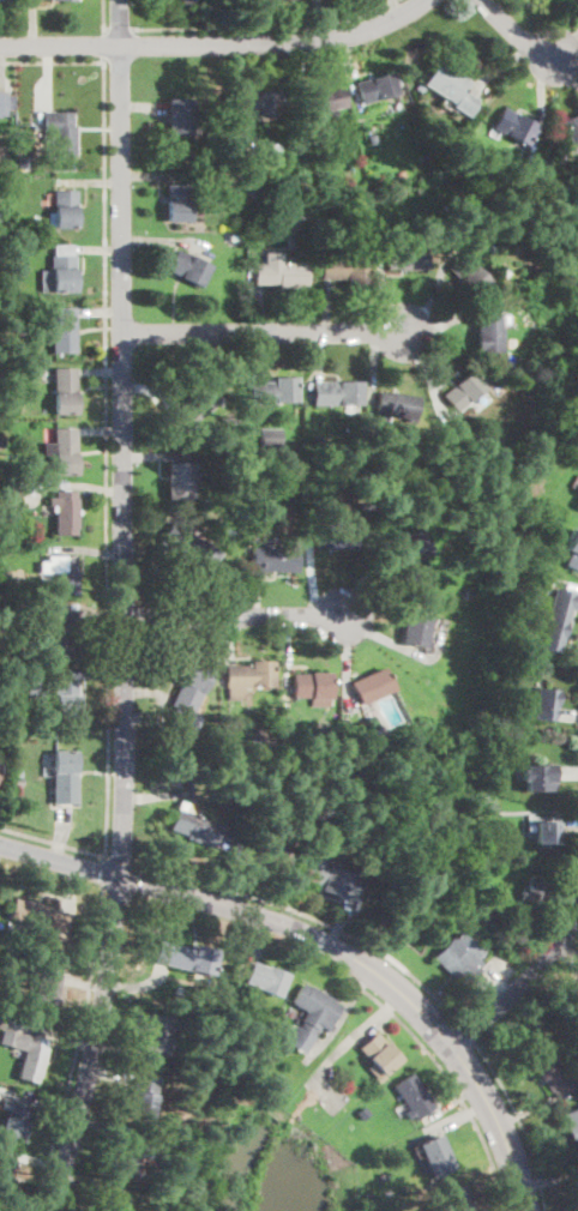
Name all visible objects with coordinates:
building: (182, 1)
road: (398, 7)
road: (103, 14)
road: (323, 20)
road: (34, 23)
road: (120, 23)
road: (254, 24)
road: (119, 28)
road: (266, 29)
road: (516, 32)
road: (566, 44)
road: (104, 46)
road: (217, 46)
road: (349, 59)
road: (52, 61)
road: (504, 64)
road: (236, 66)
road: (300, 66)
road: (566, 67)
road: (8, 68)
road: (48, 77)
building: (375, 88)
building: (452, 88)
road: (541, 94)
building: (321, 100)
building: (259, 102)
building: (5, 103)
building: (397, 103)
road: (142, 107)
building: (332, 114)
building: (179, 118)
building: (514, 125)
building: (570, 127)
building: (60, 131)
building: (372, 138)
building: (284, 149)
building: (24, 162)
road: (151, 174)
road: (91, 182)
building: (255, 191)
building: (175, 200)
building: (218, 200)
building: (62, 209)
building: (0, 215)
building: (295, 230)
road: (164, 241)
road: (98, 249)
building: (403, 258)
building: (1, 259)
building: (187, 267)
building: (344, 269)
building: (60, 271)
building: (505, 271)
building: (279, 273)
building: (468, 273)
road: (386, 297)
road: (254, 299)
road: (429, 303)
road: (329, 307)
road: (101, 312)
road: (450, 320)
building: (64, 330)
building: (486, 331)
road: (263, 332)
road: (253, 355)
road: (213, 359)
road: (315, 363)
road: (421, 366)
road: (373, 369)
road: (100, 372)
building: (464, 391)
building: (64, 392)
building: (271, 392)
building: (335, 392)
building: (7, 403)
building: (197, 404)
building: (396, 404)
building: (229, 428)
road: (102, 430)
building: (270, 438)
building: (315, 440)
building: (4, 446)
building: (64, 448)
building: (295, 451)
road: (159, 454)
building: (475, 454)
road: (107, 458)
building: (25, 472)
building: (309, 475)
building: (179, 481)
road: (71, 484)
building: (405, 493)
building: (7, 498)
building: (65, 512)
building: (6, 514)
road: (161, 518)
building: (331, 528)
building: (187, 546)
road: (88, 549)
building: (572, 549)
building: (272, 559)
building: (407, 562)
building: (62, 572)
road: (312, 573)
building: (2, 576)
road: (362, 579)
building: (476, 589)
building: (531, 590)
road: (255, 596)
road: (90, 607)
building: (554, 615)
road: (231, 616)
building: (415, 627)
road: (124, 632)
road: (379, 635)
building: (60, 638)
road: (224, 650)
road: (285, 653)
road: (348, 659)
building: (249, 675)
road: (90, 676)
building: (311, 686)
building: (371, 686)
building: (58, 695)
building: (188, 699)
building: (542, 700)
road: (567, 713)
road: (165, 715)
building: (1, 724)
building: (255, 735)
building: (315, 735)
road: (567, 772)
building: (0, 773)
building: (537, 776)
building: (64, 777)
building: (18, 779)
road: (155, 796)
building: (489, 806)
building: (251, 809)
building: (186, 824)
road: (571, 824)
road: (61, 832)
building: (547, 832)
road: (50, 841)
building: (266, 858)
road: (60, 860)
road: (119, 860)
road: (102, 869)
road: (237, 874)
building: (332, 879)
road: (68, 885)
building: (534, 892)
road: (566, 894)
road: (309, 915)
building: (37, 916)
road: (339, 922)
road: (254, 944)
road: (572, 947)
building: (182, 957)
building: (459, 958)
road: (560, 970)
road: (381, 976)
building: (266, 978)
road: (84, 980)
road: (133, 981)
road: (498, 986)
building: (179, 988)
road: (519, 988)
building: (576, 994)
building: (44, 995)
building: (315, 1008)
road: (339, 1017)
road: (465, 1029)
building: (153, 1032)
road: (49, 1034)
road: (348, 1041)
road: (112, 1043)
road: (76, 1049)
building: (26, 1053)
building: (378, 1053)
road: (108, 1071)
building: (553, 1073)
building: (577, 1074)
road: (453, 1083)
building: (140, 1096)
building: (414, 1096)
road: (451, 1101)
road: (44, 1102)
road: (538, 1108)
road: (457, 1116)
road: (520, 1121)
building: (16, 1122)
building: (572, 1123)
road: (94, 1128)
building: (435, 1156)
road: (30, 1158)
building: (122, 1159)
road: (548, 1162)
building: (153, 1173)
road: (549, 1175)
building: (6, 1177)
road: (90, 1187)
building: (457, 1199)
building: (113, 1205)

